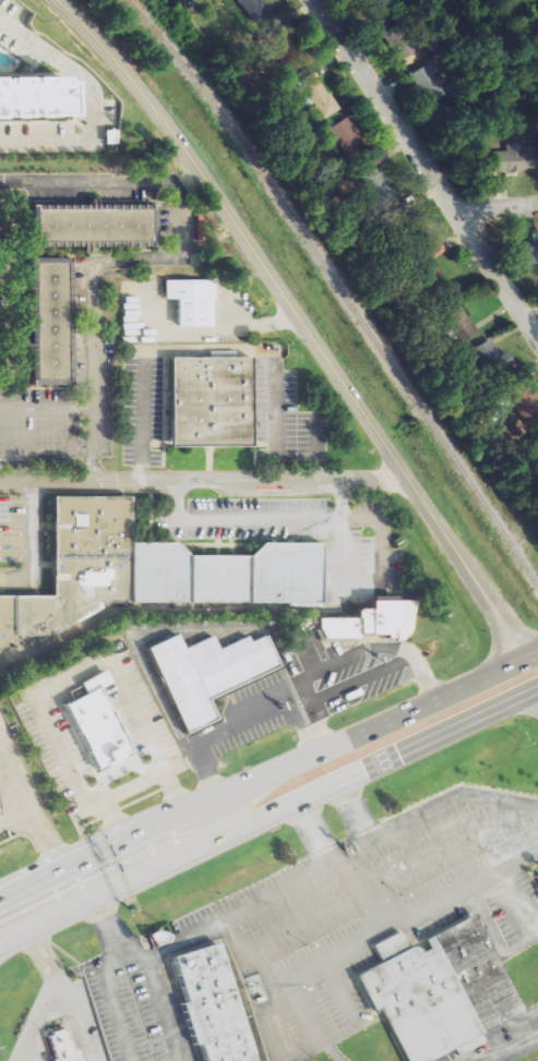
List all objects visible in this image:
building: (255, 9)
building: (430, 83)
road: (93, 92)
building: (34, 94)
building: (321, 95)
building: (346, 137)
building: (507, 157)
road: (430, 166)
road: (100, 177)
building: (378, 181)
road: (500, 205)
building: (92, 222)
building: (527, 253)
building: (433, 260)
road: (92, 287)
railway: (337, 288)
building: (192, 301)
road: (300, 319)
building: (49, 321)
building: (463, 322)
building: (493, 355)
building: (523, 399)
building: (211, 401)
building: (537, 449)
road: (202, 480)
road: (259, 519)
road: (34, 545)
building: (150, 570)
building: (372, 620)
building: (202, 672)
building: (92, 727)
road: (145, 738)
road: (268, 774)
road: (447, 797)
road: (267, 815)
road: (36, 832)
building: (537, 883)
road: (9, 892)
parking lot: (363, 912)
road: (399, 913)
road: (384, 921)
road: (200, 928)
road: (347, 940)
road: (2, 945)
road: (41, 954)
building: (439, 990)
road: (112, 1002)
building: (211, 1003)
road: (166, 1006)
parking lot: (124, 1011)
road: (75, 1017)
road: (33, 1018)
parking lot: (86, 1022)
building: (63, 1045)
parking lot: (28, 1049)
road: (503, 1049)

